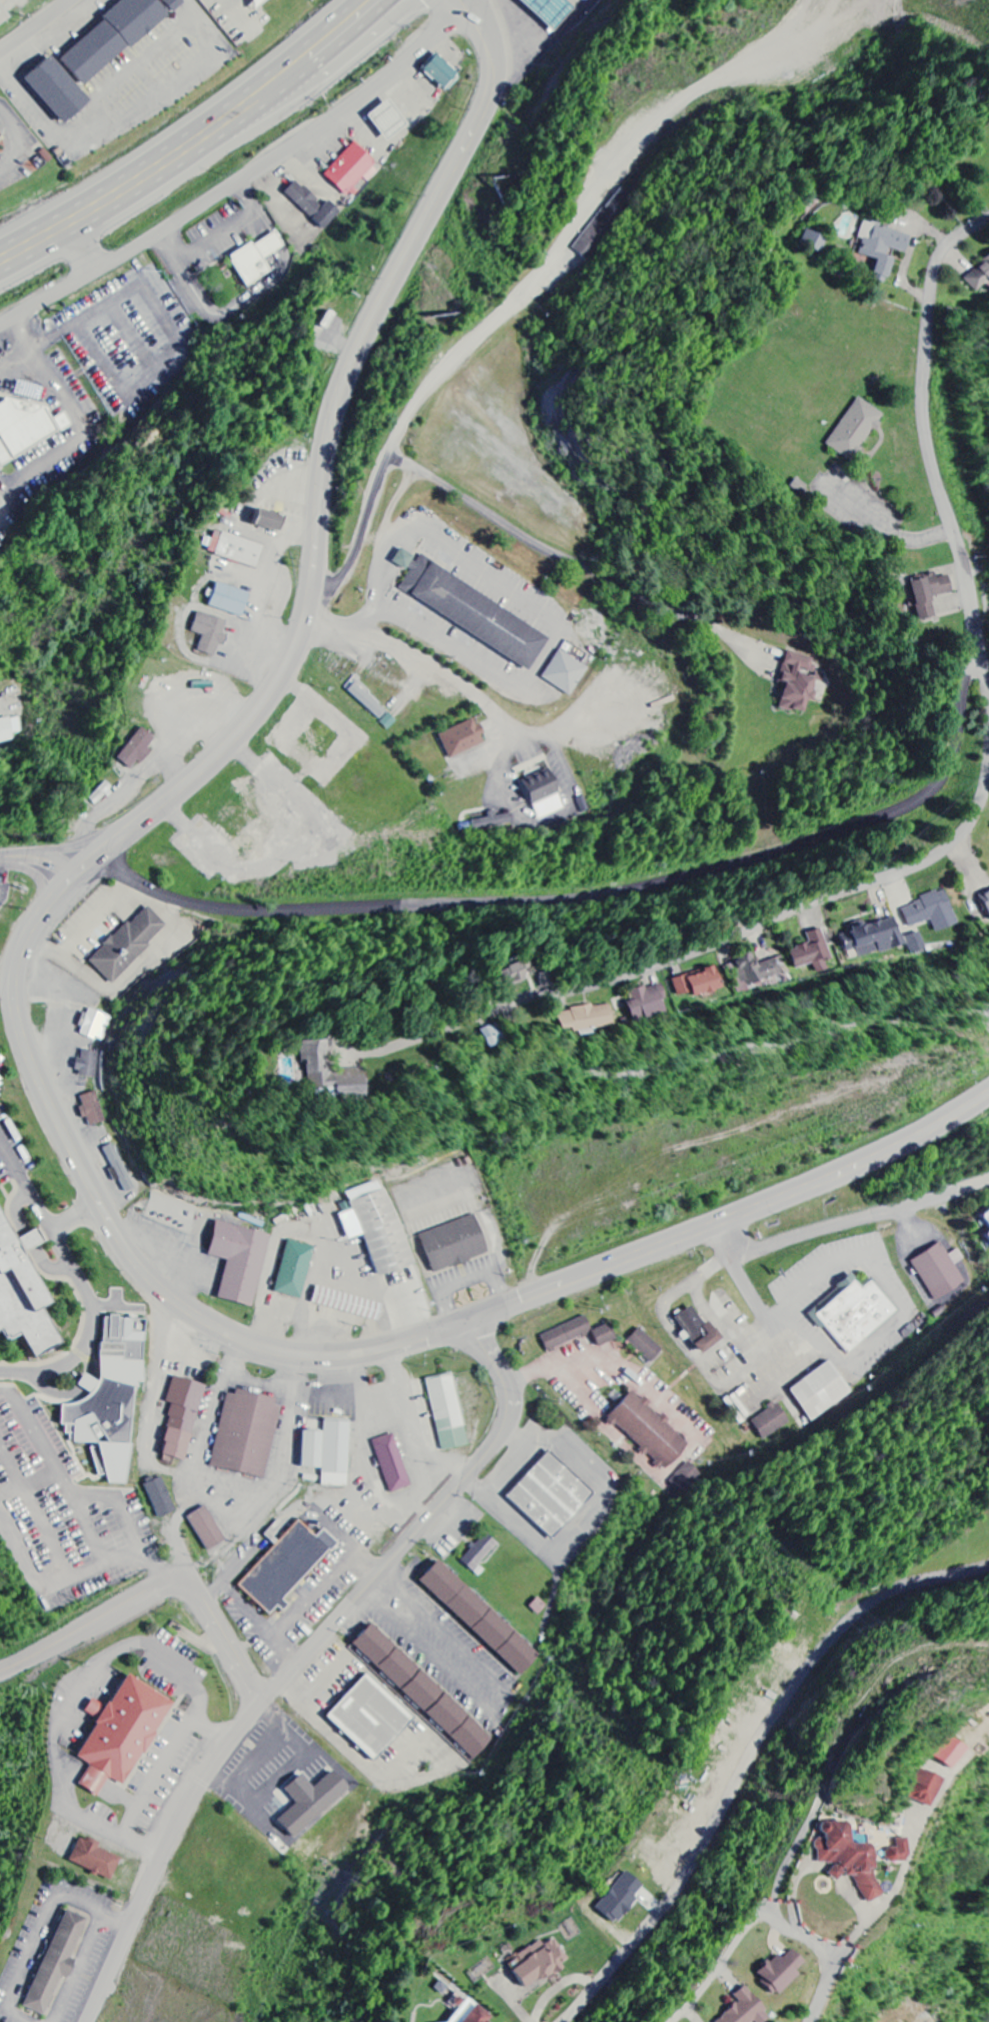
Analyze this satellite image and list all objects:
building: (260, 2)
building: (255, 3)
building: (550, 8)
gas station: (550, 8)
road: (356, 13)
road: (364, 13)
building: (3, 18)
road: (34, 24)
building: (116, 37)
building: (441, 73)
building: (57, 91)
building: (385, 115)
gas station: (385, 115)
road: (179, 152)
building: (351, 170)
road: (242, 184)
building: (314, 207)
building: (814, 242)
building: (882, 248)
building: (257, 260)
building: (979, 277)
road: (225, 399)
building: (23, 429)
building: (856, 430)
road: (923, 431)
road: (329, 455)
building: (1, 506)
building: (269, 522)
building: (236, 550)
building: (928, 596)
building: (230, 601)
building: (472, 612)
building: (210, 634)
road: (414, 654)
building: (566, 674)
road: (986, 675)
building: (800, 683)
road: (9, 694)
building: (373, 707)
building: (10, 729)
building: (463, 740)
building: (137, 750)
building: (544, 796)
road: (567, 813)
building: (494, 824)
road: (47, 861)
road: (586, 898)
building: (986, 898)
building: (931, 911)
road: (732, 936)
building: (874, 937)
building: (914, 942)
building: (130, 944)
building: (816, 952)
building: (761, 966)
building: (522, 971)
building: (555, 977)
building: (706, 980)
building: (655, 998)
building: (593, 1016)
building: (97, 1025)
building: (500, 1032)
building: (88, 1064)
building: (341, 1069)
building: (93, 1109)
power tower: (194, 1151)
building: (123, 1173)
road: (76, 1213)
building: (985, 1215)
building: (378, 1227)
building: (987, 1235)
building: (455, 1244)
building: (240, 1262)
building: (295, 1270)
building: (940, 1271)
road: (77, 1281)
building: (22, 1293)
building: (348, 1304)
building: (855, 1314)
building: (699, 1331)
building: (567, 1334)
building: (605, 1335)
building: (646, 1346)
road: (352, 1349)
building: (820, 1391)
building: (110, 1399)
building: (448, 1413)
building: (182, 1417)
building: (771, 1422)
building: (649, 1431)
building: (247, 1434)
building: (329, 1453)
building: (392, 1464)
building: (551, 1496)
building: (160, 1497)
building: (207, 1529)
building: (481, 1553)
building: (287, 1567)
building: (480, 1619)
road: (97, 1621)
road: (230, 1634)
road: (313, 1652)
building: (424, 1693)
power tower: (963, 1697)
building: (371, 1718)
building: (122, 1735)
building: (963, 1754)
building: (936, 1790)
building: (311, 1803)
building: (907, 1854)
building: (96, 1860)
building: (858, 1860)
building: (621, 1899)
building: (57, 1961)
building: (540, 1962)
building: (786, 1974)
road: (825, 1985)
road: (592, 1993)
building: (750, 2007)
building: (473, 2015)

